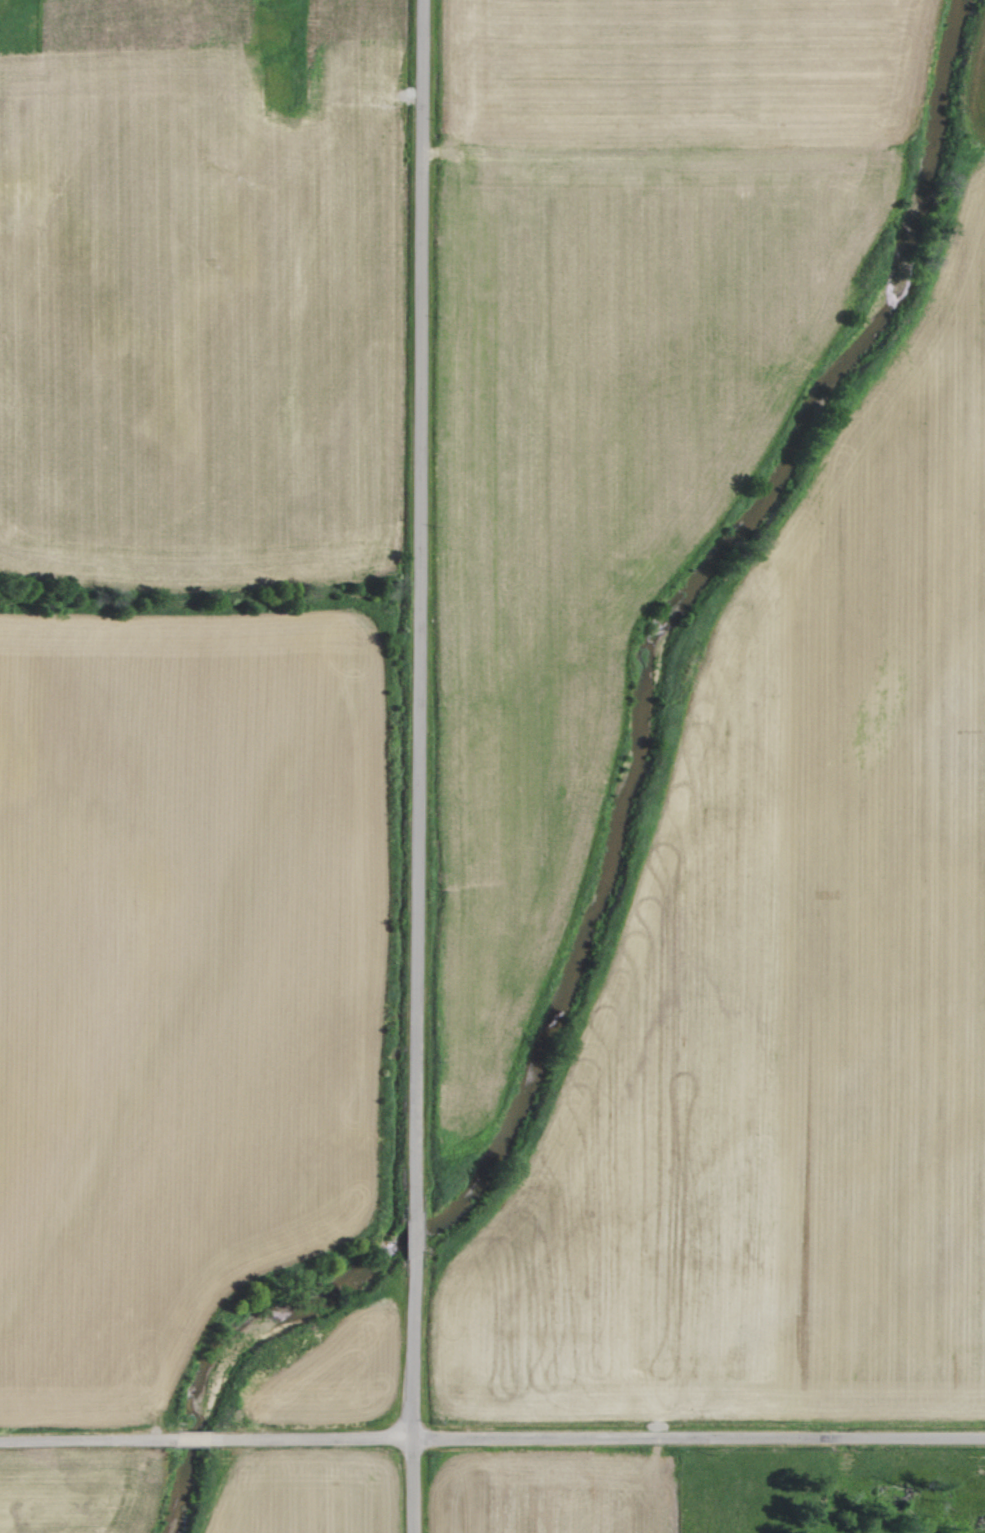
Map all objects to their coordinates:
road: (422, 603)
road: (418, 1230)
road: (416, 1393)
road: (599, 1439)
road: (196, 1440)
road: (89, 1443)

